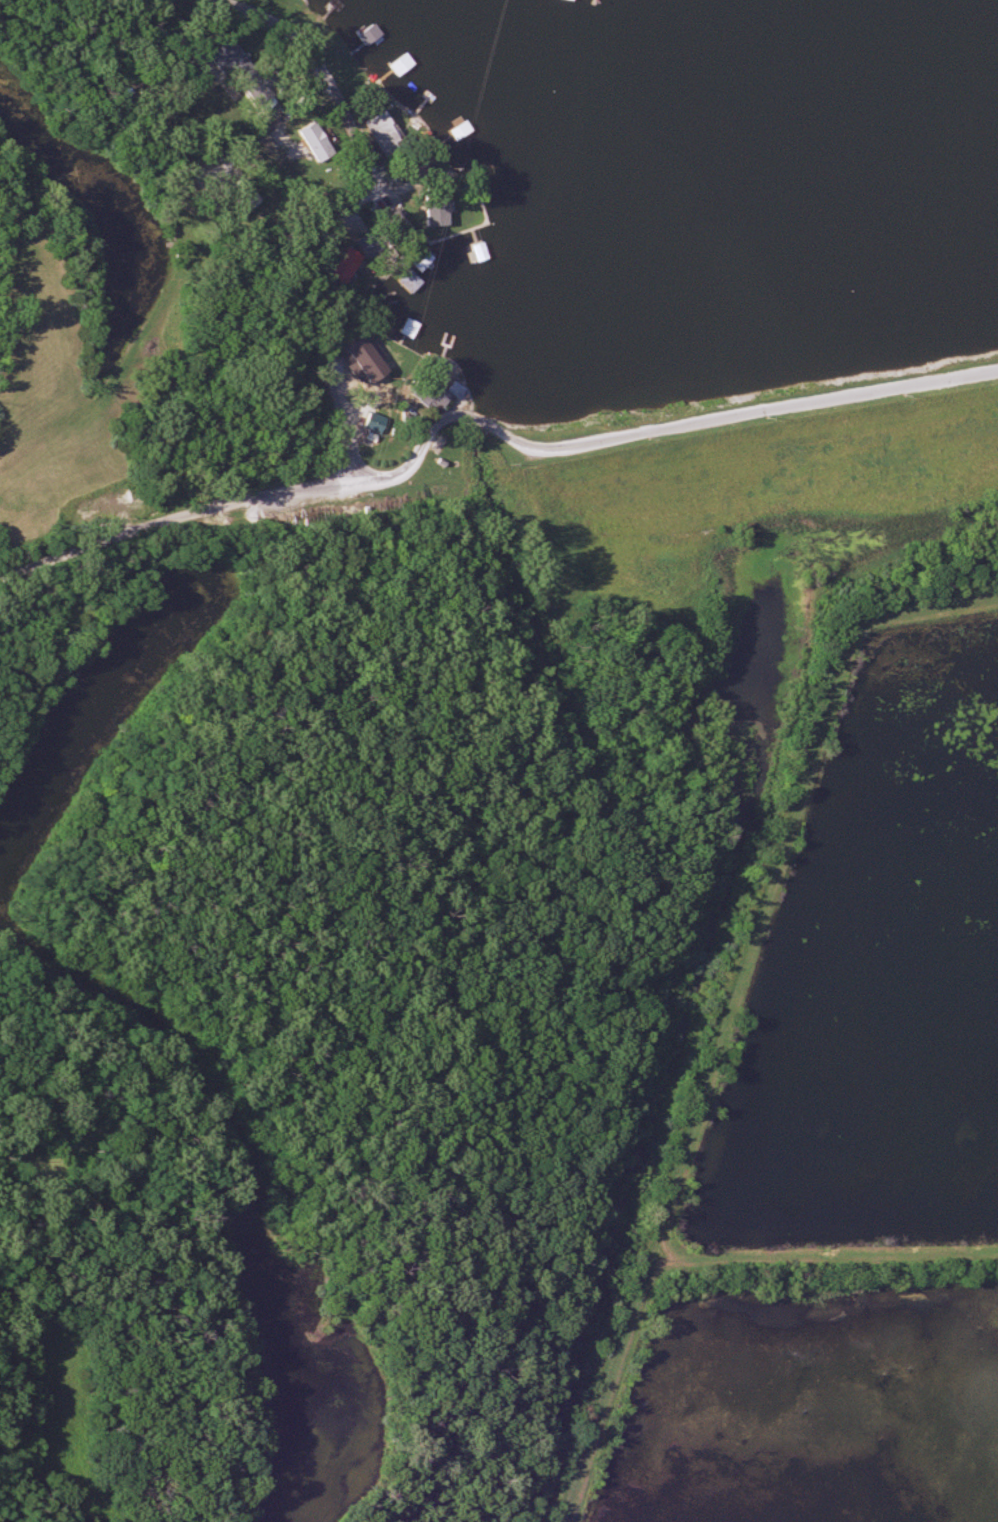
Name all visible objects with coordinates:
building: (573, 0)
building: (404, 67)
building: (461, 131)
building: (385, 133)
building: (315, 141)
road: (364, 213)
building: (498, 223)
building: (343, 271)
building: (410, 326)
building: (437, 395)
road: (475, 414)
building: (376, 422)
dam: (760, 455)

